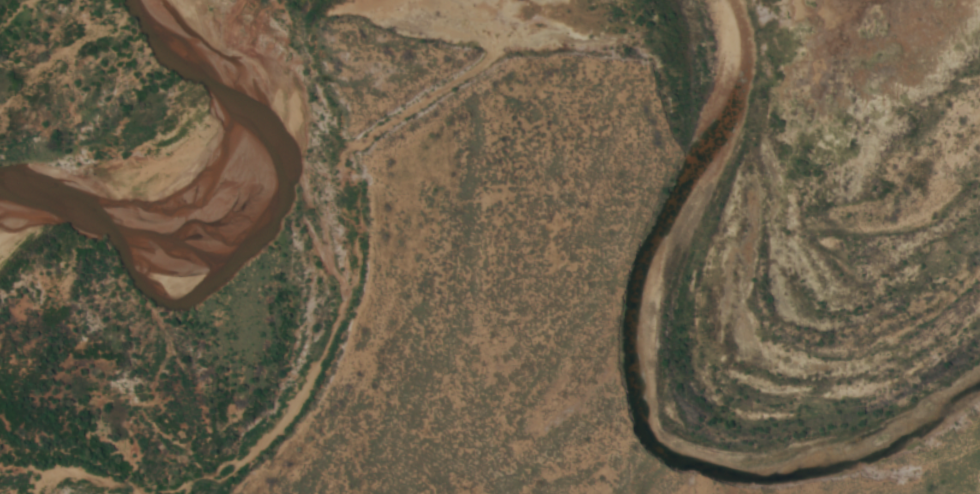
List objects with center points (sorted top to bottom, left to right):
river: (143, 135)
river: (653, 384)
river: (29, 482)

